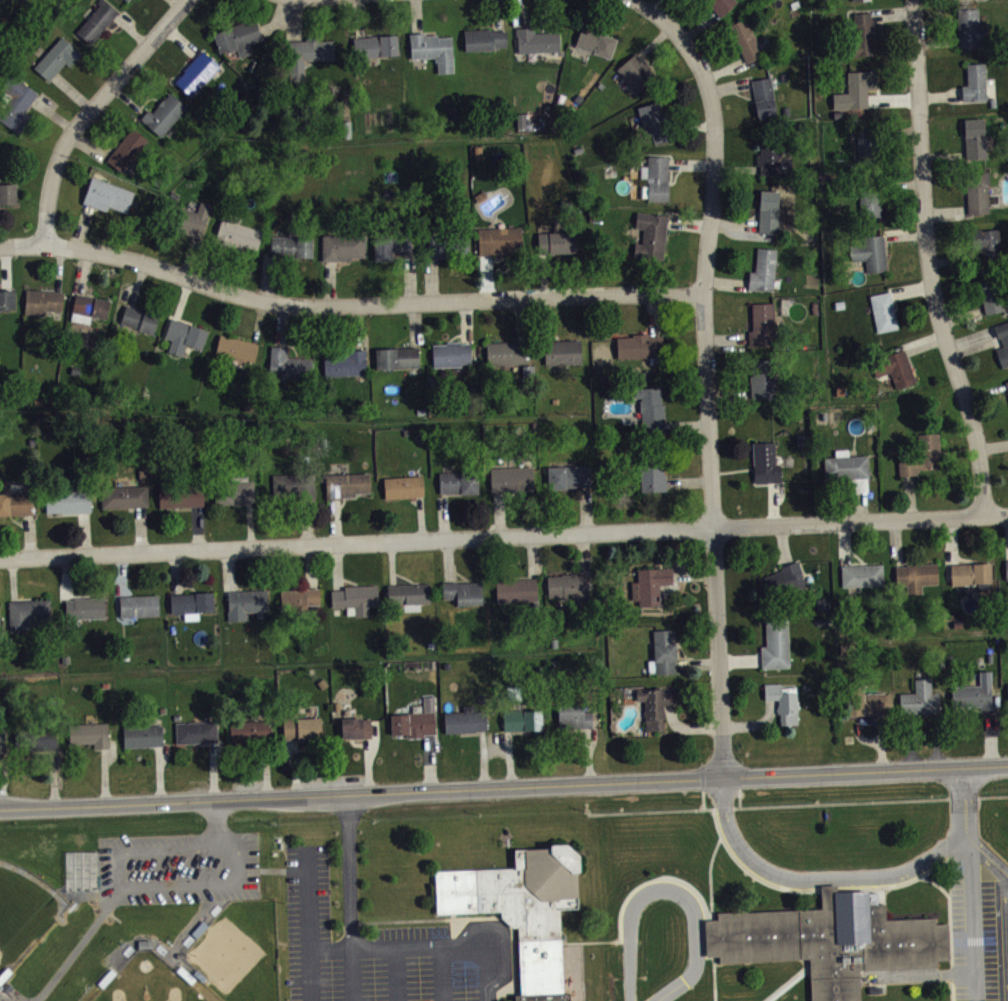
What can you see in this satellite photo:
building: (127, 0)
building: (972, 0)
building: (861, 2)
road: (176, 3)
road: (654, 5)
building: (721, 5)
road: (520, 14)
road: (892, 14)
road: (496, 15)
road: (589, 15)
road: (658, 15)
road: (416, 16)
road: (358, 18)
road: (278, 20)
road: (294, 20)
building: (96, 21)
road: (699, 25)
building: (969, 28)
road: (130, 30)
building: (862, 35)
building: (237, 37)
road: (181, 39)
building: (483, 39)
building: (537, 40)
road: (653, 40)
building: (744, 40)
road: (937, 40)
building: (595, 42)
building: (374, 46)
building: (432, 50)
building: (305, 56)
building: (55, 58)
road: (723, 67)
building: (196, 72)
building: (635, 72)
building: (974, 82)
road: (730, 88)
road: (73, 91)
building: (854, 91)
road: (940, 94)
building: (762, 97)
road: (892, 98)
road: (127, 100)
building: (991, 102)
building: (16, 104)
road: (89, 110)
road: (53, 114)
building: (163, 114)
building: (653, 122)
road: (691, 126)
road: (898, 128)
building: (974, 136)
building: (867, 143)
road: (91, 144)
building: (126, 150)
building: (771, 155)
road: (943, 155)
road: (691, 164)
road: (737, 169)
building: (655, 176)
road: (902, 184)
building: (7, 191)
building: (976, 192)
building: (107, 195)
building: (869, 197)
building: (767, 209)
road: (946, 209)
building: (186, 218)
road: (734, 223)
road: (688, 224)
road: (81, 226)
building: (236, 232)
building: (650, 235)
road: (905, 235)
building: (499, 240)
building: (557, 242)
building: (985, 242)
building: (447, 244)
building: (291, 246)
building: (342, 246)
building: (391, 246)
building: (869, 252)
road: (188, 256)
road: (954, 258)
road: (928, 260)
road: (215, 264)
road: (5, 267)
road: (58, 268)
building: (762, 269)
road: (82, 270)
road: (542, 274)
road: (486, 276)
road: (407, 277)
road: (273, 278)
road: (432, 279)
road: (726, 281)
road: (137, 283)
road: (329, 283)
road: (911, 290)
building: (989, 292)
building: (7, 297)
road: (182, 298)
building: (42, 299)
building: (89, 303)
road: (347, 305)
building: (883, 310)
road: (654, 313)
road: (961, 314)
building: (139, 316)
road: (546, 317)
road: (518, 319)
road: (257, 320)
road: (464, 320)
road: (412, 323)
building: (762, 323)
road: (281, 324)
road: (357, 326)
building: (183, 334)
road: (727, 338)
road: (970, 338)
building: (1002, 341)
building: (638, 344)
road: (924, 344)
building: (236, 346)
building: (562, 350)
building: (450, 352)
building: (505, 352)
building: (396, 356)
building: (345, 361)
building: (288, 362)
building: (894, 366)
building: (762, 377)
building: (1006, 384)
road: (986, 391)
road: (728, 392)
road: (707, 401)
building: (650, 408)
road: (686, 425)
road: (993, 445)
building: (921, 453)
building: (765, 461)
building: (847, 467)
building: (652, 470)
building: (567, 474)
building: (510, 477)
road: (688, 480)
building: (458, 481)
building: (346, 482)
building: (294, 483)
building: (403, 484)
building: (234, 488)
building: (180, 493)
building: (123, 494)
road: (909, 495)
building: (67, 499)
building: (15, 501)
road: (773, 502)
road: (861, 505)
road: (585, 508)
road: (499, 513)
road: (443, 516)
road: (420, 517)
road: (335, 520)
road: (307, 521)
road: (250, 523)
road: (197, 527)
road: (140, 528)
road: (84, 532)
road: (27, 534)
road: (503, 535)
road: (1007, 536)
road: (951, 539)
road: (897, 542)
road: (782, 543)
road: (845, 543)
road: (581, 553)
road: (531, 556)
road: (448, 560)
road: (391, 562)
road: (311, 565)
road: (337, 566)
road: (230, 568)
building: (1006, 568)
road: (175, 572)
building: (970, 572)
road: (121, 573)
road: (693, 574)
building: (862, 575)
road: (67, 576)
building: (916, 576)
road: (12, 578)
building: (783, 579)
building: (649, 584)
building: (568, 586)
building: (516, 588)
building: (463, 591)
building: (407, 592)
building: (300, 594)
building: (355, 596)
building: (192, 600)
building: (244, 601)
building: (138, 603)
building: (303, 603)
building: (84, 606)
building: (27, 611)
building: (0, 625)
building: (775, 643)
building: (662, 652)
road: (740, 659)
road: (697, 664)
building: (1007, 689)
building: (973, 691)
building: (919, 697)
building: (865, 700)
building: (782, 701)
building: (655, 704)
building: (573, 715)
building: (521, 718)
building: (414, 719)
building: (464, 720)
road: (754, 722)
building: (301, 726)
building: (354, 726)
road: (685, 726)
building: (247, 729)
building: (195, 730)
road: (858, 730)
building: (89, 732)
building: (141, 734)
road: (987, 736)
building: (35, 737)
building: (2, 738)
road: (936, 738)
road: (911, 739)
road: (881, 741)
building: (47, 748)
road: (588, 754)
road: (482, 757)
road: (509, 757)
road: (430, 761)
road: (367, 764)
road: (294, 766)
road: (265, 768)
road: (212, 770)
road: (158, 772)
road: (103, 775)
road: (52, 777)
road: (504, 786)
road: (0, 793)
road: (739, 794)
road: (992, 795)
road: (966, 797)
road: (858, 801)
road: (719, 807)
road: (688, 808)
road: (217, 823)
road: (971, 835)
road: (993, 853)
parking lot: (179, 866)
road: (932, 868)
road: (711, 869)
road: (350, 870)
road: (1005, 877)
road: (818, 879)
road: (138, 886)
road: (634, 888)
road: (797, 888)
road: (669, 891)
road: (1005, 899)
road: (308, 900)
park: (24, 908)
building: (522, 909)
road: (973, 914)
parking lot: (980, 926)
road: (950, 931)
building: (831, 940)
building: (144, 942)
road: (77, 944)
road: (425, 947)
parking lot: (368, 948)
park: (240, 951)
road: (397, 974)
road: (441, 974)
road: (309, 975)
road: (351, 975)
road: (714, 978)
park: (148, 981)
road: (787, 982)

